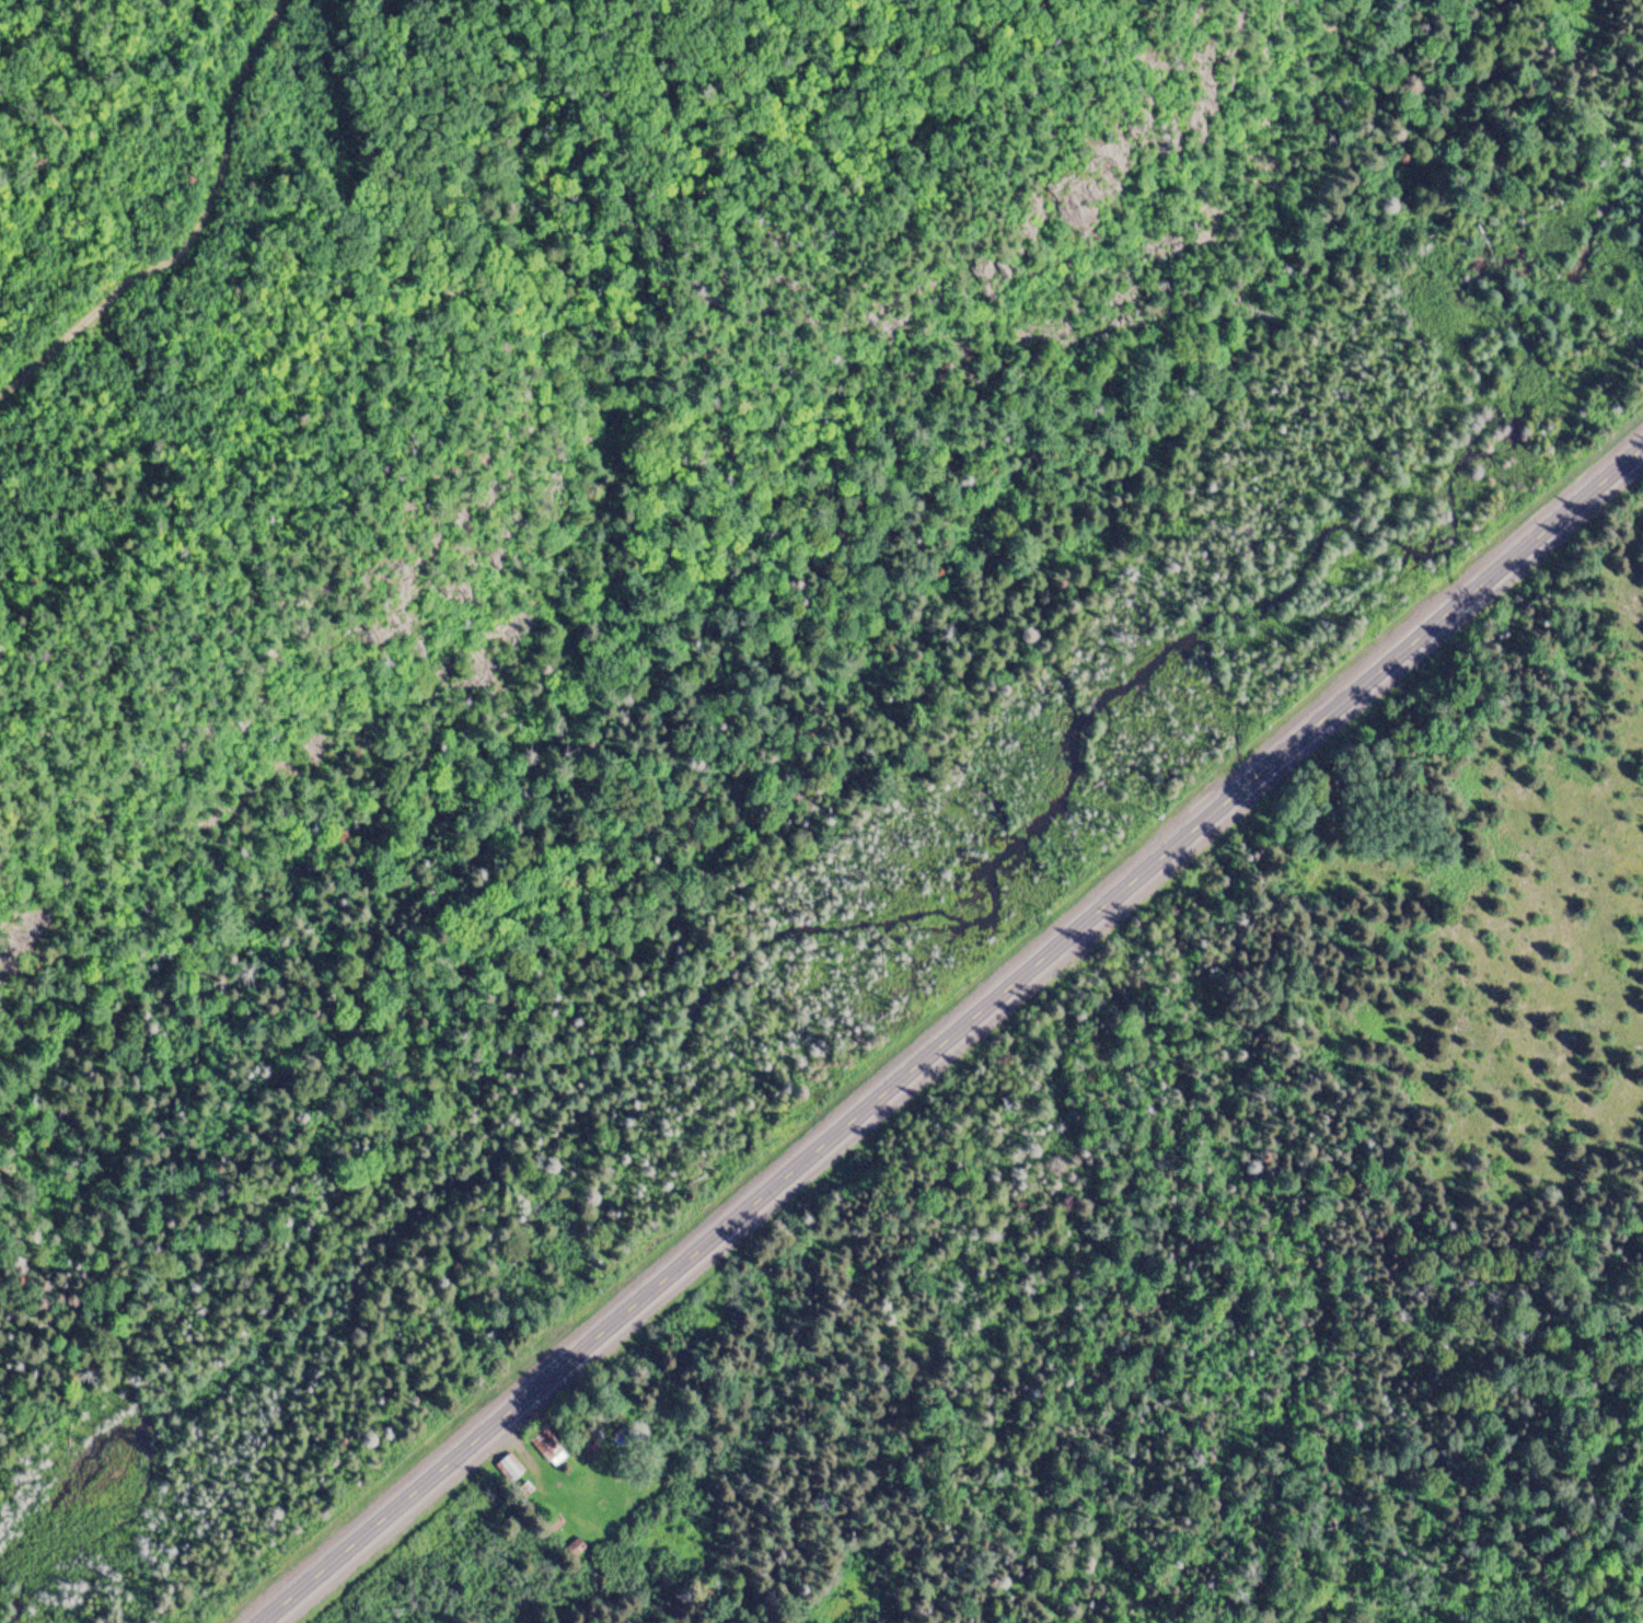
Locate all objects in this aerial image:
river: (833, 925)
road: (950, 1033)
building: (546, 1447)
building: (509, 1469)

